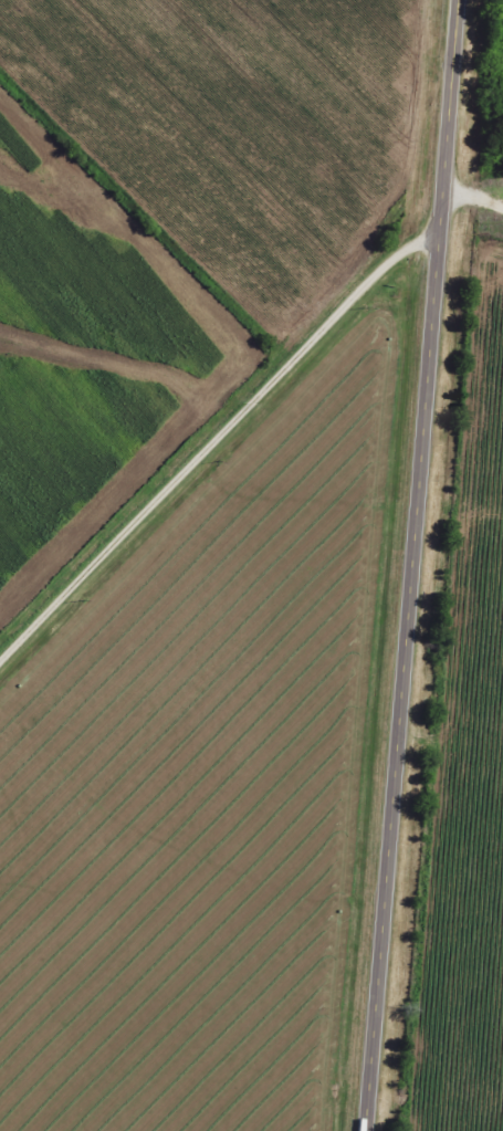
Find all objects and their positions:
road: (211, 438)
road: (409, 565)

